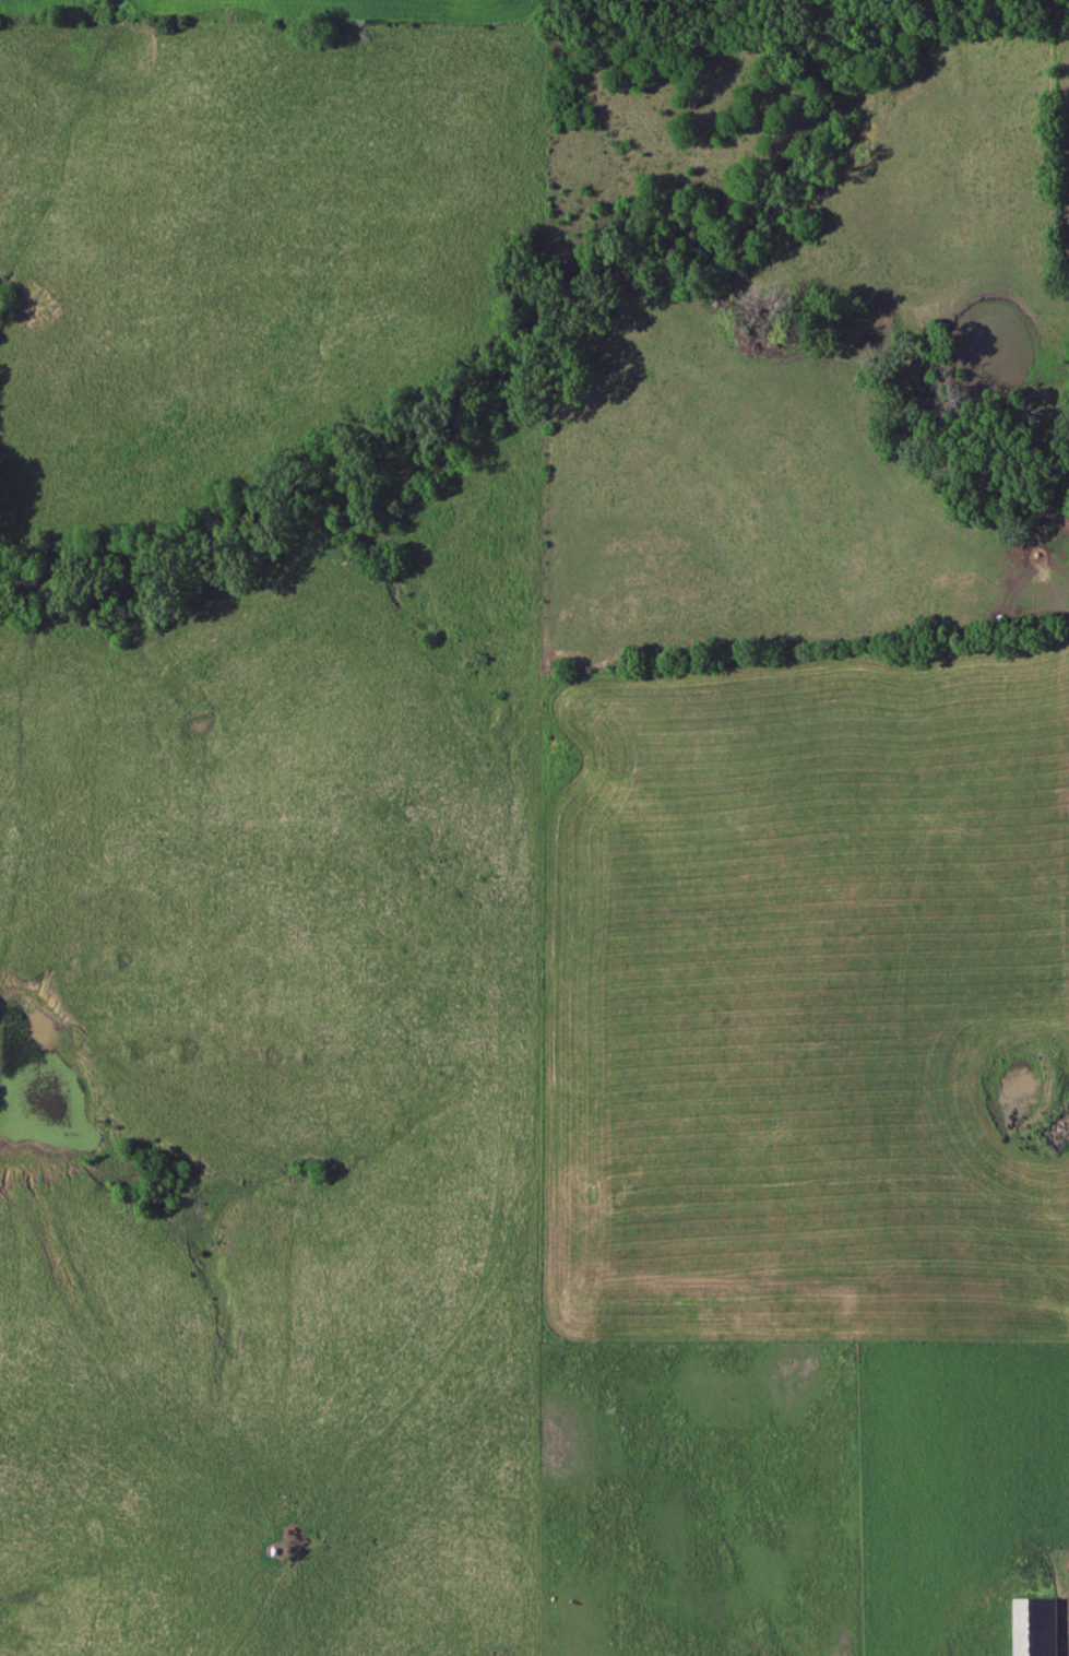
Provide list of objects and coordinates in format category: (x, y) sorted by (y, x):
building: (1033, 1624)

